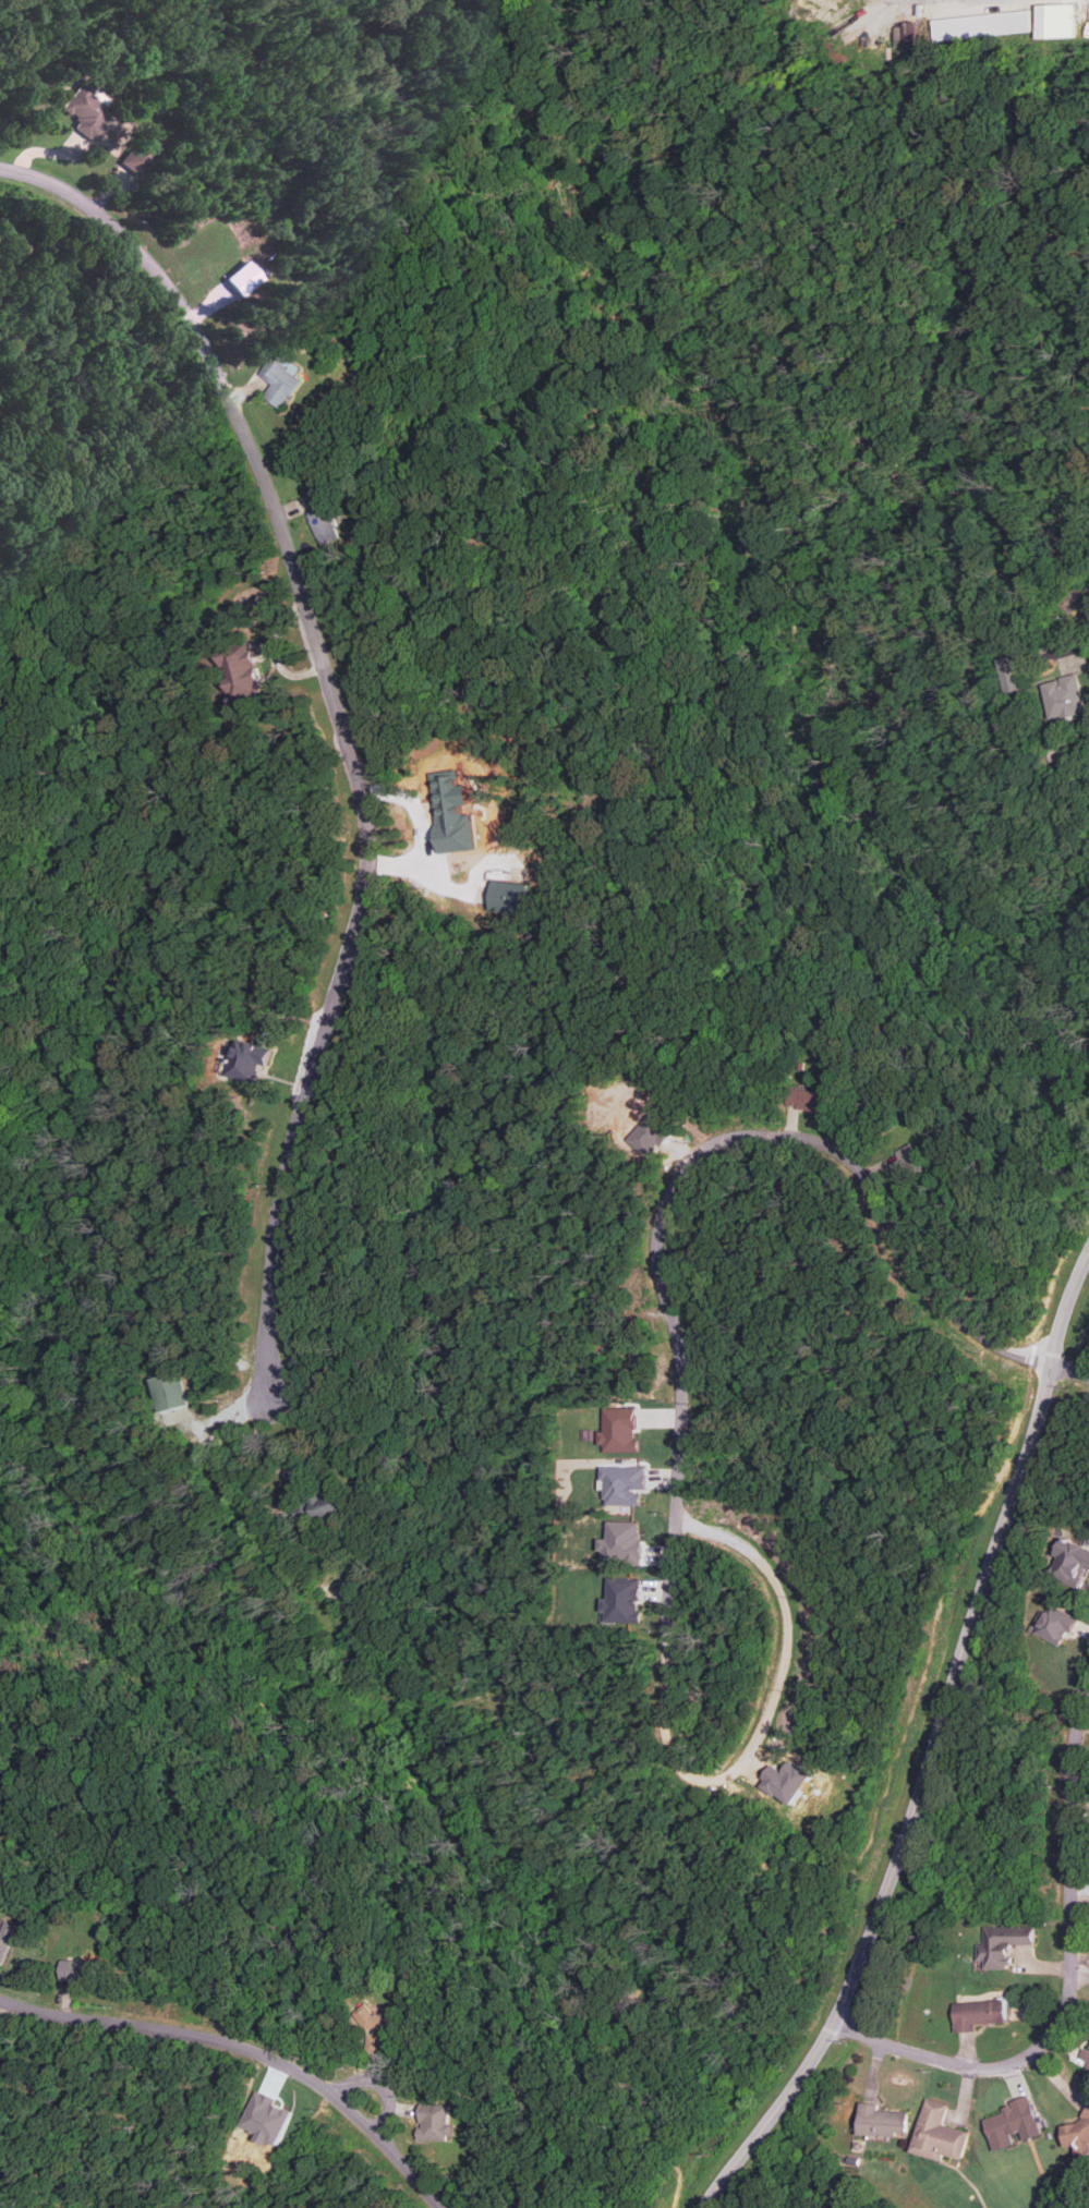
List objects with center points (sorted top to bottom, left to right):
building: (921, 10)
building: (1056, 20)
building: (983, 25)
building: (1088, 29)
building: (911, 32)
building: (84, 111)
building: (137, 155)
building: (243, 278)
building: (280, 383)
building: (322, 517)
building: (242, 670)
building: (1009, 674)
building: (1065, 696)
road: (355, 781)
building: (452, 812)
building: (508, 896)
building: (249, 1060)
building: (809, 1100)
road: (754, 1141)
building: (908, 1162)
road: (1053, 1274)
road: (1031, 1352)
building: (170, 1392)
building: (619, 1429)
building: (624, 1484)
building: (334, 1505)
building: (622, 1541)
building: (1072, 1563)
building: (622, 1600)
building: (1054, 1624)
road: (933, 1746)
road: (740, 1764)
road: (836, 1913)
building: (7, 1940)
building: (1003, 1943)
building: (80, 1970)
road: (1070, 1973)
road: (5, 2014)
building: (978, 2014)
building: (377, 2029)
road: (247, 2049)
building: (1085, 2054)
road: (384, 2083)
building: (268, 2118)
building: (882, 2121)
building: (435, 2122)
building: (1011, 2122)
building: (939, 2133)
building: (1078, 2133)
park: (788, 2175)
road: (167, 2203)

